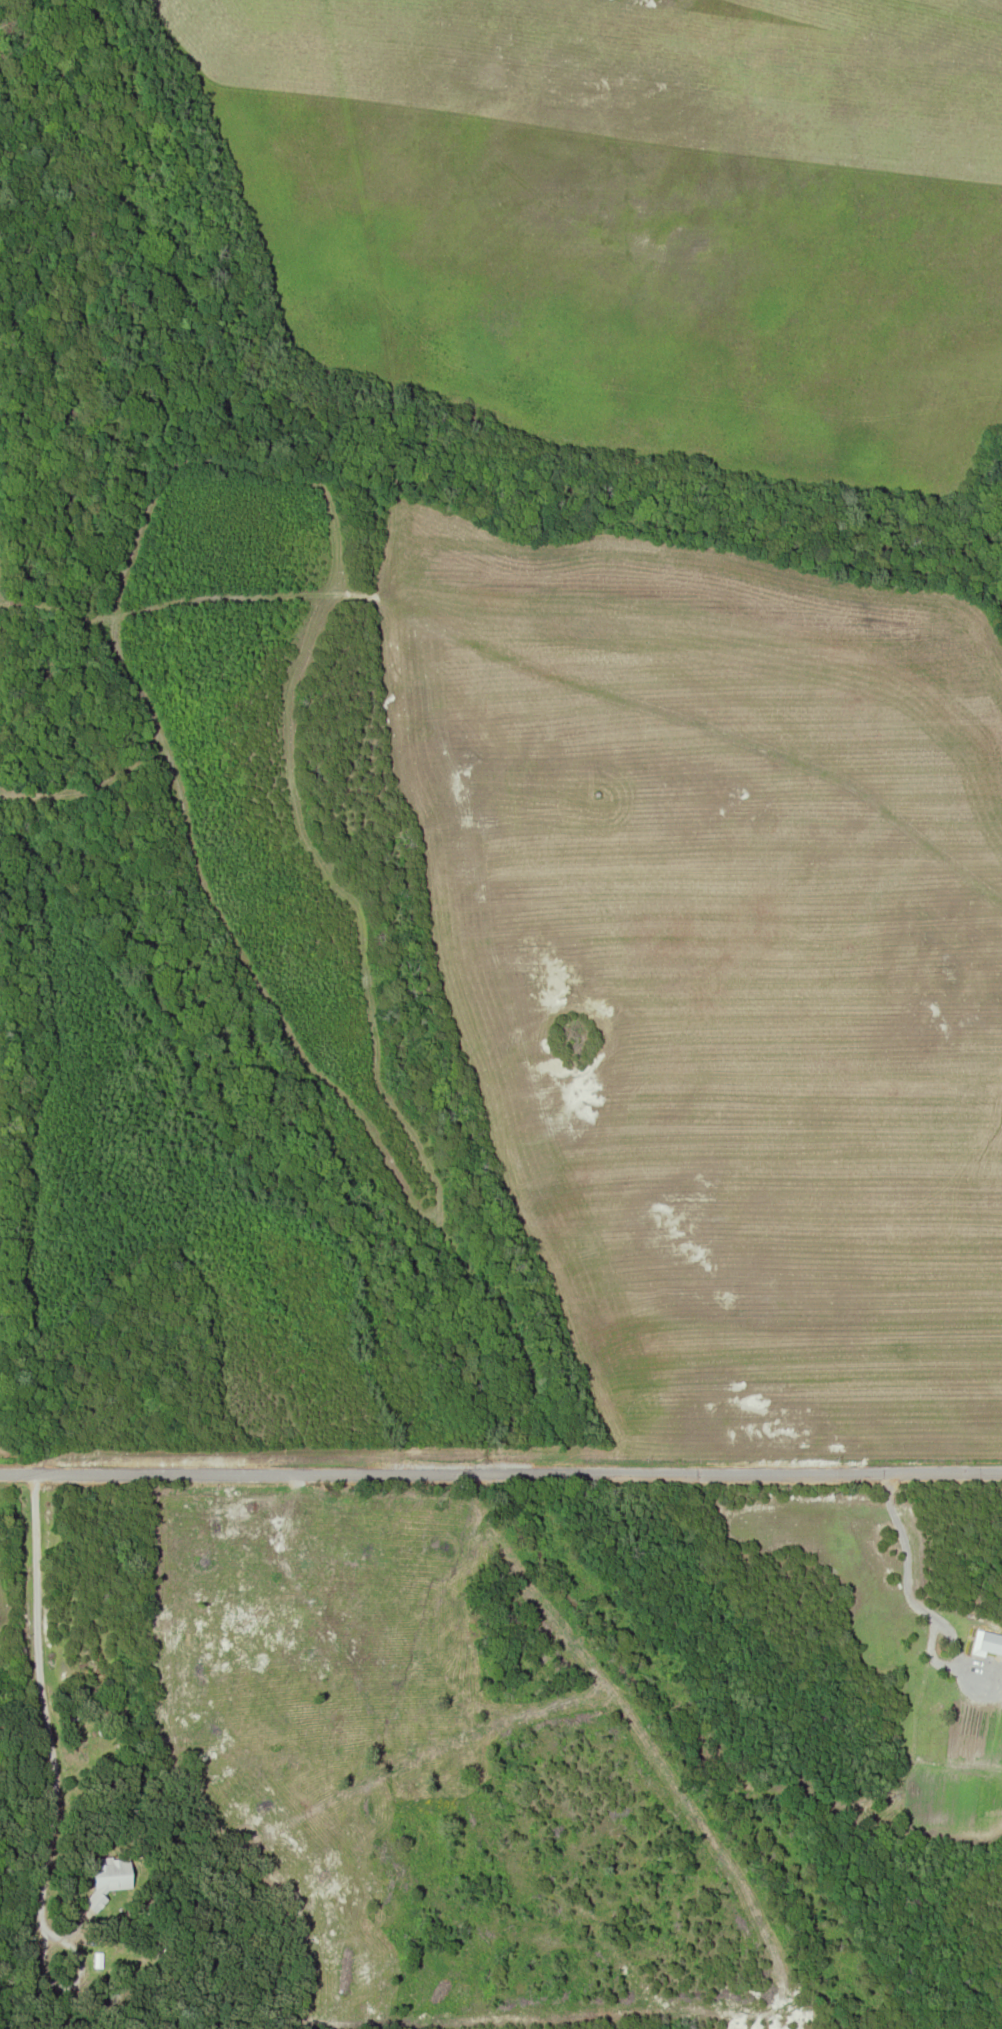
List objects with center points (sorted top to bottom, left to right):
road: (500, 1463)
building: (105, 1877)

